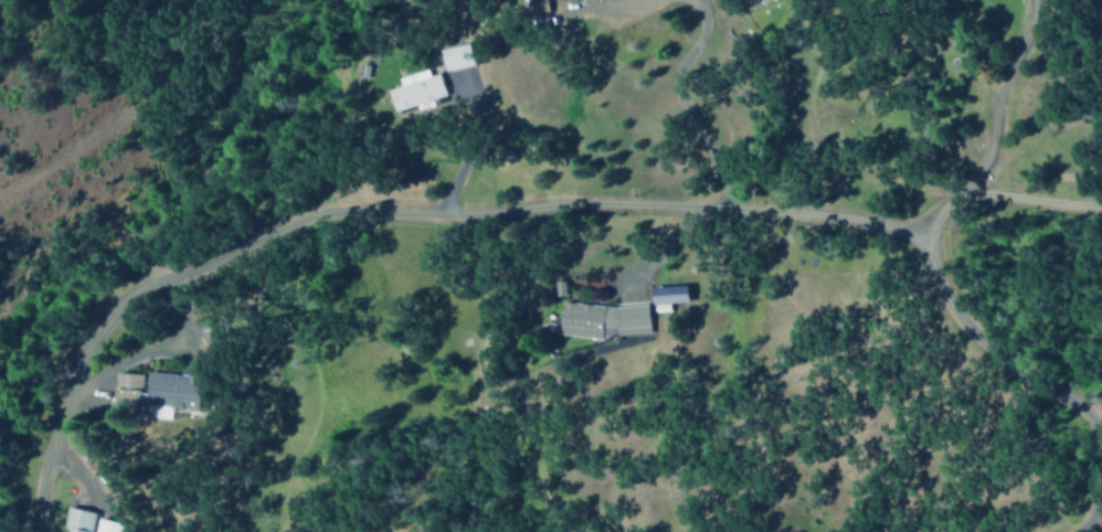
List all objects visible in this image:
building: (453, 57)
building: (458, 77)
building: (412, 89)
road: (992, 134)
road: (576, 210)
building: (666, 295)
building: (598, 319)
building: (151, 391)
building: (75, 520)
building: (104, 525)

